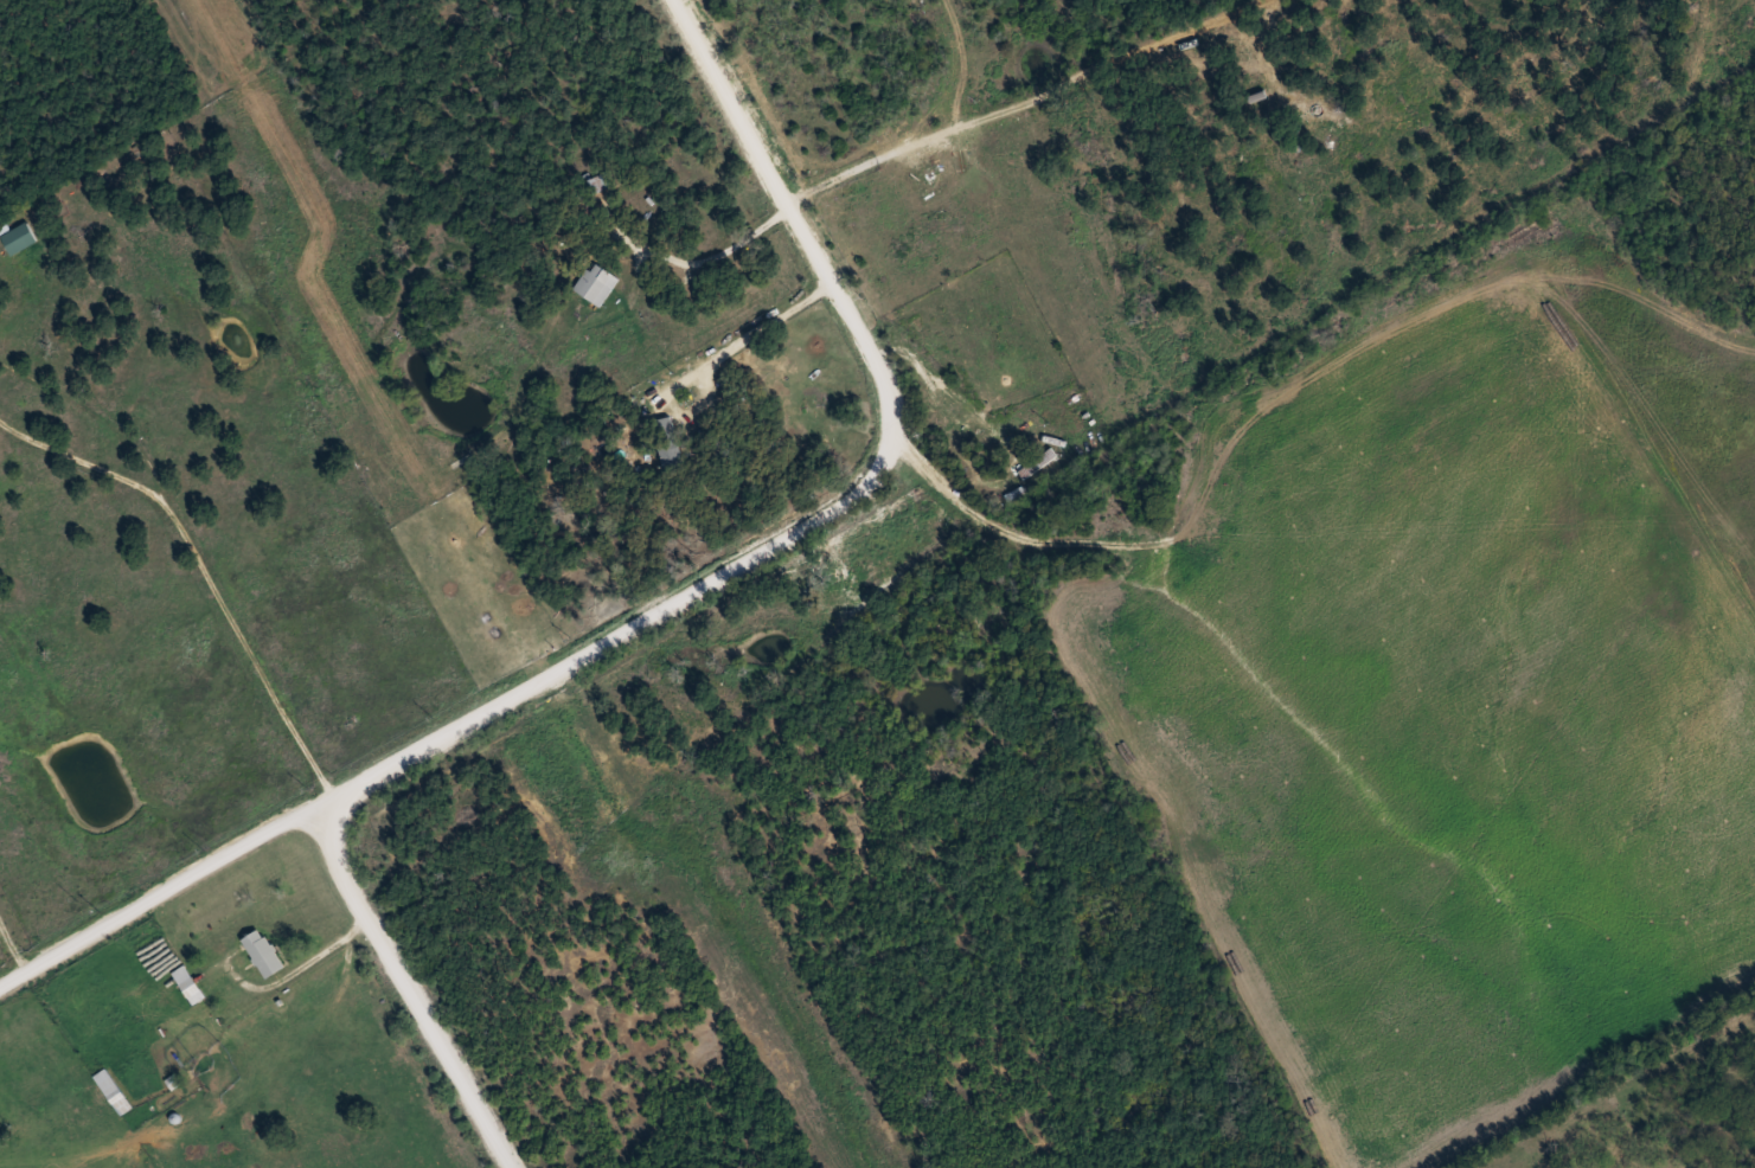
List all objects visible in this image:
building: (1257, 91)
building: (597, 182)
road: (812, 231)
building: (20, 237)
road: (1305, 364)
building: (670, 442)
building: (1038, 461)
road: (447, 737)
building: (265, 951)
road: (406, 974)
building: (190, 982)
building: (114, 1089)

